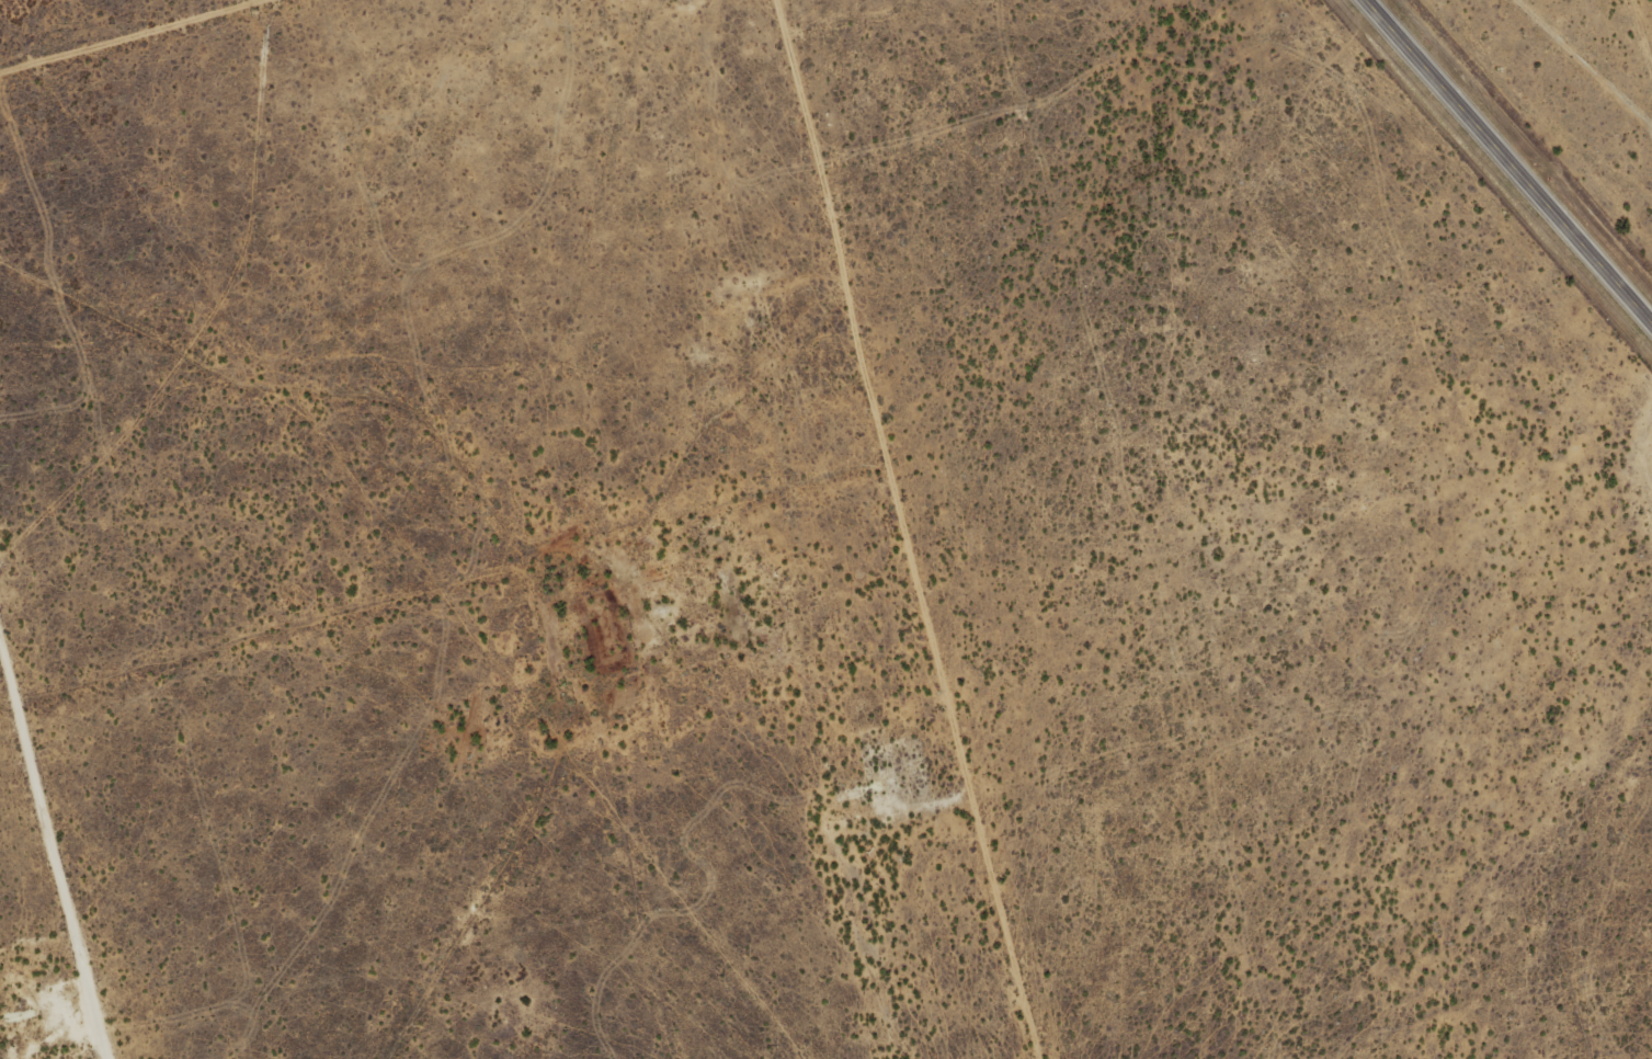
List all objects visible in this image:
road: (1506, 164)

